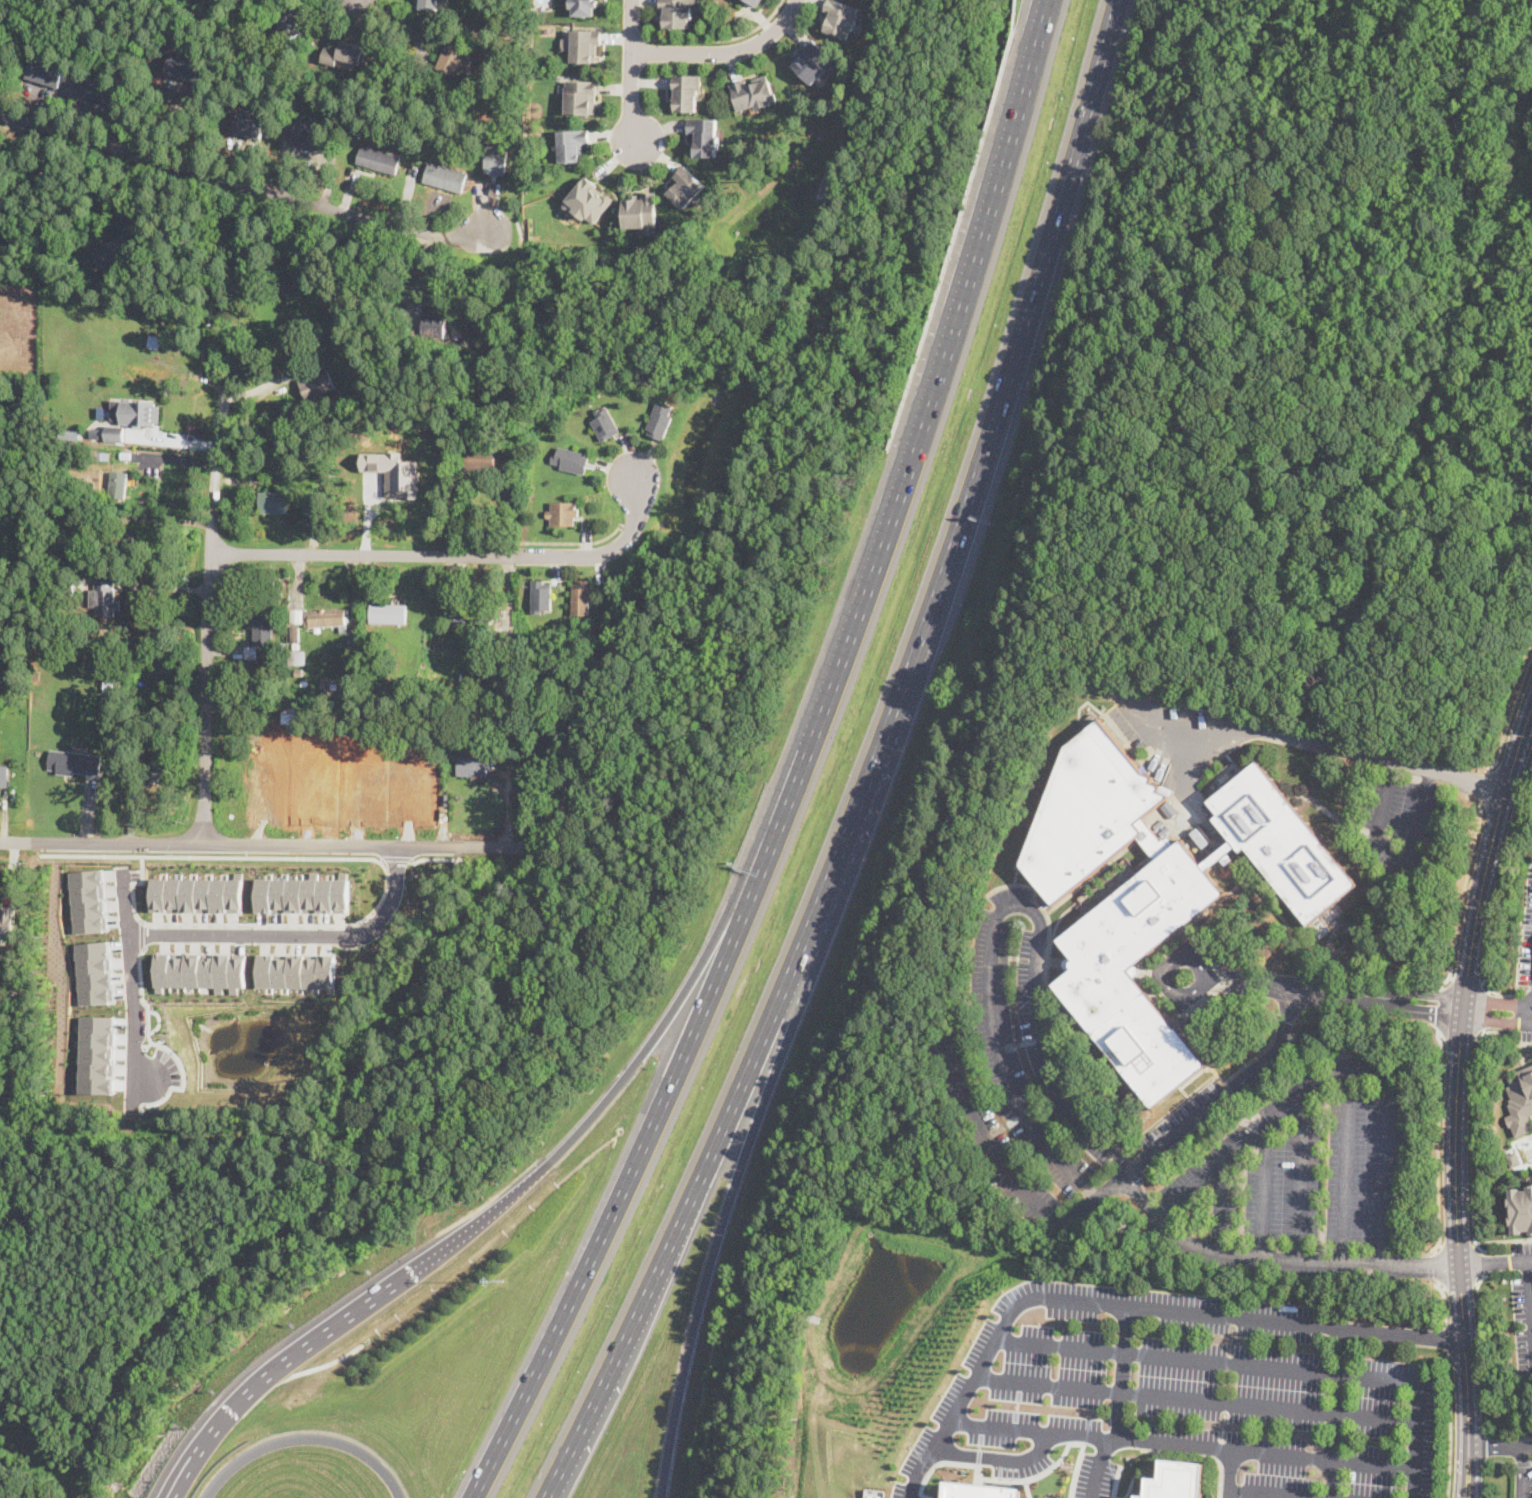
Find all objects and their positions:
building: (755, 2)
building: (428, 5)
building: (583, 7)
building: (677, 12)
building: (502, 16)
building: (840, 17)
road: (400, 23)
building: (288, 27)
road: (703, 41)
building: (583, 44)
road: (723, 53)
building: (353, 55)
building: (455, 60)
building: (812, 60)
building: (184, 67)
road: (630, 72)
building: (46, 73)
building: (101, 91)
building: (686, 91)
building: (754, 92)
building: (581, 96)
building: (248, 125)
building: (357, 132)
building: (310, 134)
building: (704, 135)
building: (572, 144)
building: (378, 160)
building: (495, 160)
building: (445, 177)
building: (686, 186)
road: (256, 187)
building: (588, 200)
building: (643, 212)
building: (113, 251)
building: (185, 282)
building: (434, 325)
building: (155, 342)
building: (316, 385)
building: (139, 413)
building: (295, 420)
building: (661, 420)
building: (605, 423)
building: (135, 431)
building: (507, 431)
building: (114, 432)
building: (95, 433)
building: (126, 454)
road: (910, 457)
building: (101, 458)
road: (215, 458)
building: (570, 459)
building: (480, 461)
building: (393, 471)
building: (116, 484)
building: (274, 503)
building: (564, 512)
building: (97, 517)
building: (123, 540)
road: (578, 542)
road: (452, 555)
building: (286, 576)
building: (66, 586)
road: (160, 587)
building: (542, 595)
building: (583, 596)
building: (272, 597)
building: (106, 603)
building: (147, 608)
building: (387, 613)
building: (296, 615)
building: (76, 617)
building: (472, 617)
building: (325, 619)
building: (261, 627)
building: (294, 634)
building: (295, 646)
building: (250, 652)
building: (297, 658)
building: (149, 659)
building: (165, 661)
building: (298, 672)
building: (308, 683)
road: (206, 684)
building: (448, 684)
building: (489, 684)
building: (110, 686)
building: (323, 688)
building: (254, 705)
building: (110, 706)
building: (470, 707)
road: (1511, 710)
building: (385, 713)
building: (295, 714)
building: (447, 714)
building: (341, 716)
building: (252, 734)
road: (1195, 737)
road: (509, 739)
building: (143, 752)
building: (74, 761)
building: (340, 761)
road: (1383, 761)
building: (163, 763)
building: (473, 766)
road: (881, 767)
building: (257, 770)
building: (4, 776)
road: (1487, 786)
building: (1087, 810)
parking lot: (1400, 823)
road: (254, 843)
road: (1489, 855)
road: (397, 858)
road: (431, 858)
road: (381, 859)
road: (1396, 862)
road: (386, 873)
road: (1499, 886)
building: (198, 894)
road: (1463, 894)
building: (302, 895)
building: (86, 901)
road: (1002, 908)
building: (7, 922)
road: (1286, 923)
building: (1120, 933)
road: (141, 934)
road: (296, 935)
parking lot: (1527, 939)
building: (1406, 955)
building: (201, 969)
building: (298, 970)
road: (1162, 972)
building: (93, 973)
building: (11, 975)
road: (130, 986)
road: (1309, 989)
road: (1336, 993)
road: (1440, 1006)
road: (1482, 1008)
road: (1497, 1013)
road: (1285, 1016)
road: (1308, 1019)
road: (158, 1020)
parking lot: (1527, 1020)
road: (1507, 1034)
road: (158, 1044)
road: (1333, 1053)
building: (96, 1054)
road: (1367, 1054)
road: (1228, 1076)
parking lot: (1024, 1081)
building: (1518, 1100)
road: (1205, 1111)
parking lot: (1180, 1120)
road: (1439, 1133)
road: (1245, 1141)
road: (1472, 1144)
building: (1513, 1159)
road: (1345, 1162)
road: (1006, 1171)
road: (1301, 1176)
parking lot: (1301, 1180)
road: (1265, 1190)
road: (616, 1204)
road: (1219, 1206)
building: (1520, 1209)
road: (481, 1223)
road: (1455, 1228)
road: (717, 1238)
road: (1503, 1239)
parking lot: (1523, 1257)
road: (1482, 1263)
road: (1494, 1263)
road: (1419, 1264)
road: (1440, 1264)
road: (1479, 1279)
road: (1529, 1294)
road: (1071, 1299)
road: (1444, 1303)
parking lot: (1526, 1329)
road: (1447, 1339)
road: (1345, 1355)
road: (1227, 1363)
parking lot: (1188, 1392)
road: (1197, 1399)
road: (1450, 1426)
road: (1038, 1430)
road: (304, 1437)
road: (1527, 1446)
road: (1495, 1448)
road: (1227, 1449)
road: (997, 1458)
road: (1499, 1462)
road: (1522, 1462)
road: (1055, 1464)
road: (936, 1465)
road: (1098, 1468)
road: (1521, 1472)
road: (1229, 1473)
road: (1467, 1473)
parking lot: (1096, 1474)
building: (1176, 1480)
road: (1116, 1481)
parking lot: (1523, 1483)
road: (1415, 1484)
parking lot: (908, 1488)
road: (1028, 1489)
building: (980, 1491)
road: (1271, 1492)
building: (876, 1493)

